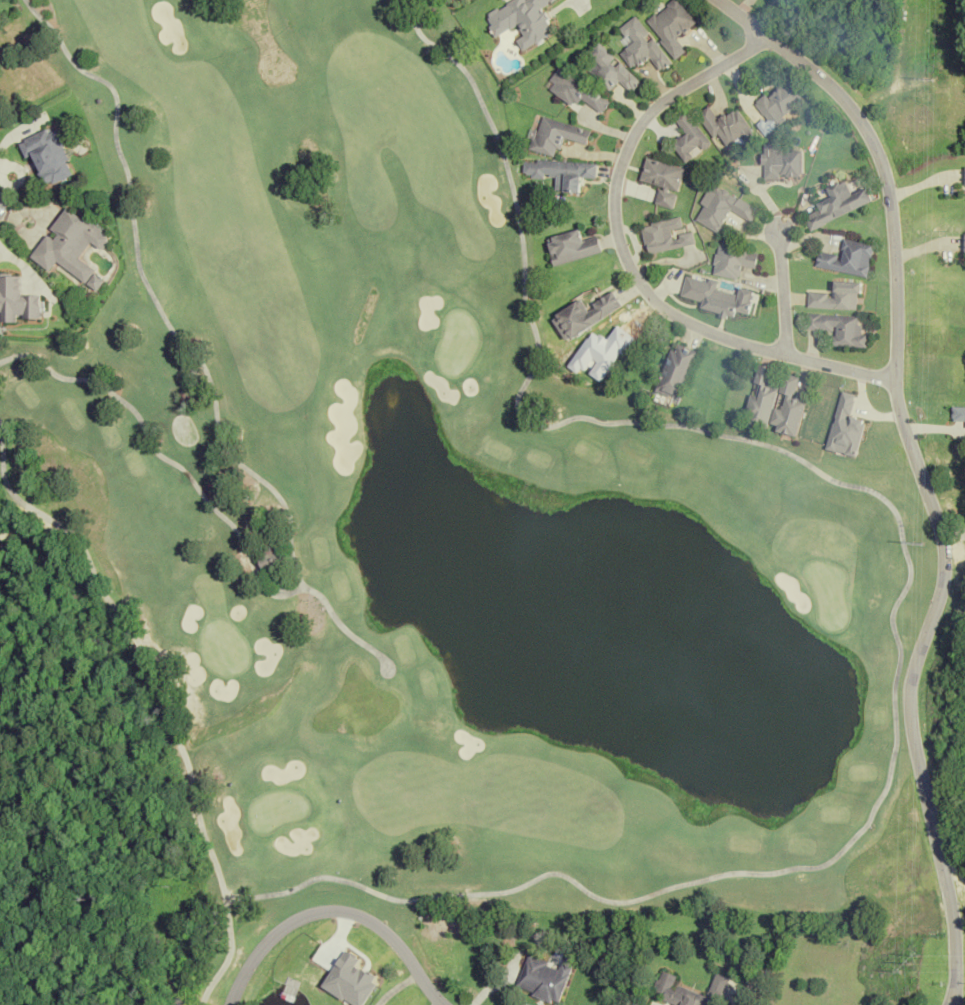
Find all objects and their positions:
road: (565, 2)
building: (526, 21)
building: (669, 26)
building: (640, 46)
building: (610, 69)
building: (574, 90)
building: (778, 102)
building: (724, 125)
building: (554, 135)
building: (688, 137)
building: (47, 155)
building: (780, 162)
building: (559, 172)
building: (964, 176)
building: (661, 180)
building: (837, 204)
building: (721, 209)
building: (664, 236)
building: (963, 244)
building: (70, 245)
building: (570, 247)
building: (846, 259)
building: (732, 262)
road: (625, 265)
road: (780, 293)
building: (716, 297)
building: (836, 297)
building: (583, 316)
building: (838, 329)
building: (676, 370)
building: (775, 402)
road: (917, 471)
building: (269, 556)
road: (335, 904)
building: (543, 979)
building: (686, 991)

